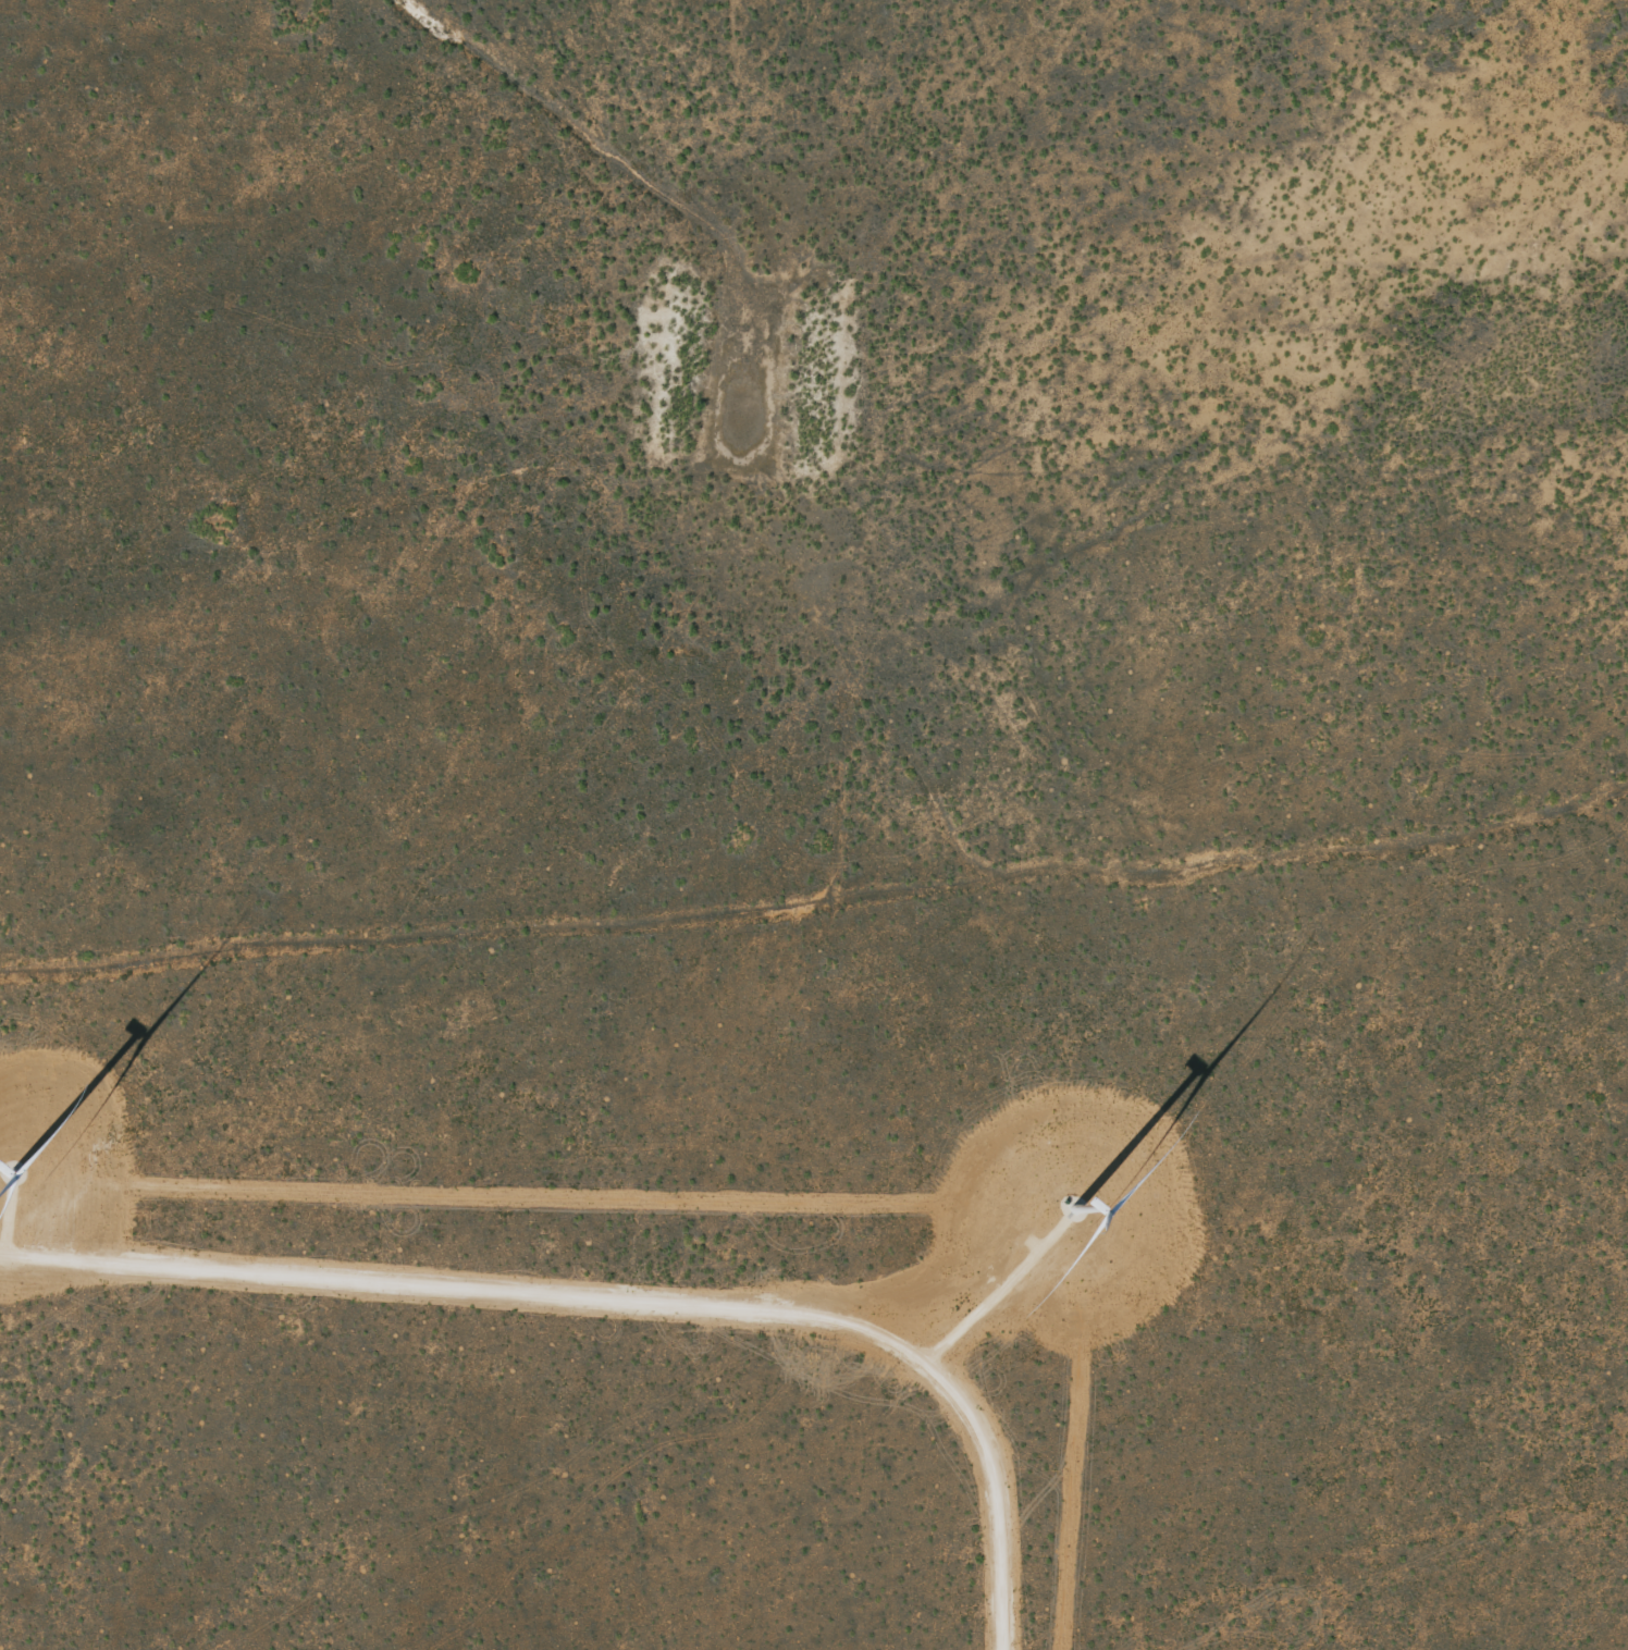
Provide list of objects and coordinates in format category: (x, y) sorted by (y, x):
wind turbine: (13, 1175)
wind turbine: (1068, 1212)

